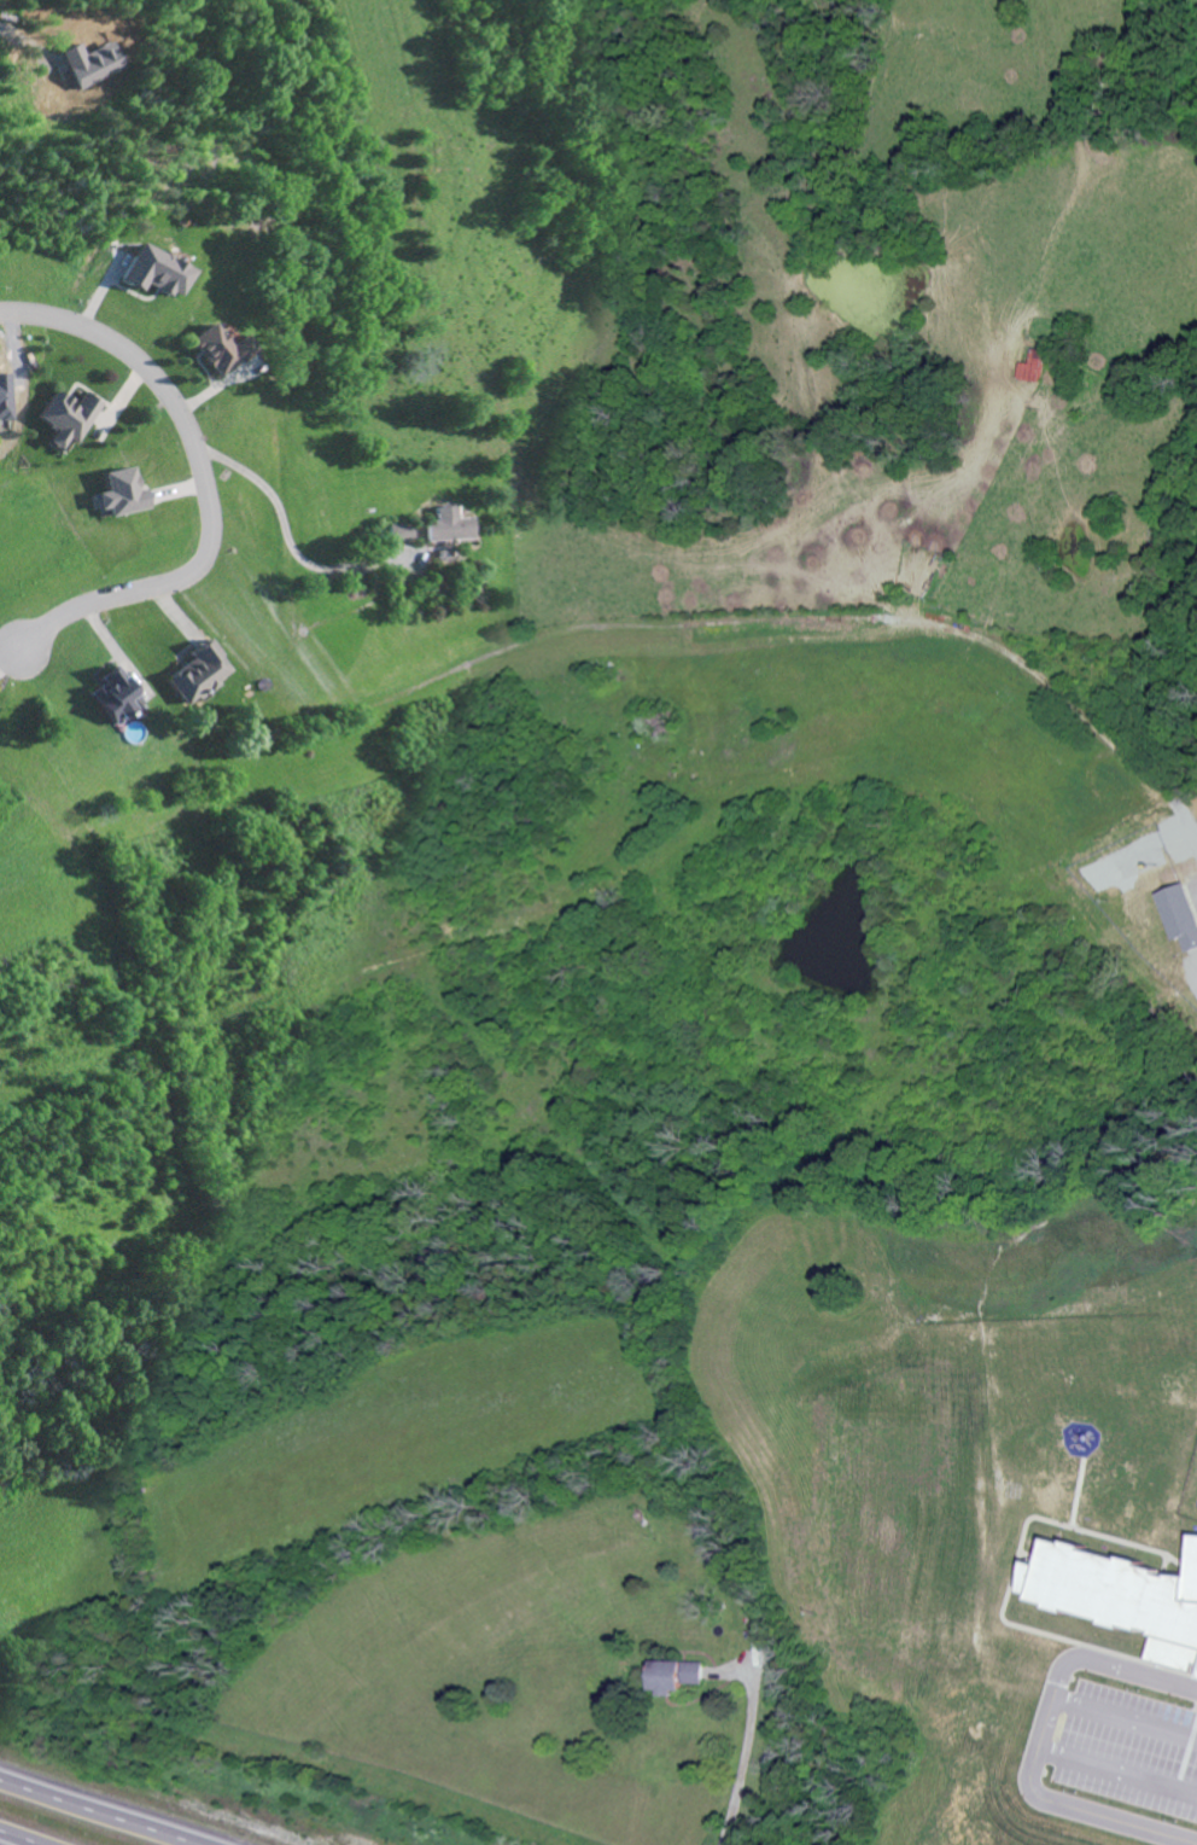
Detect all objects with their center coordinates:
building: (156, 274)
building: (221, 353)
building: (68, 420)
road: (204, 477)
building: (122, 495)
building: (452, 528)
building: (401, 535)
road: (291, 542)
road: (776, 619)
building: (195, 676)
building: (112, 699)
building: (1180, 918)
building: (1116, 1589)
road: (1115, 1670)
building: (676, 1677)
road: (743, 1756)
road: (1065, 1809)
road: (103, 1810)
road: (21, 1838)

